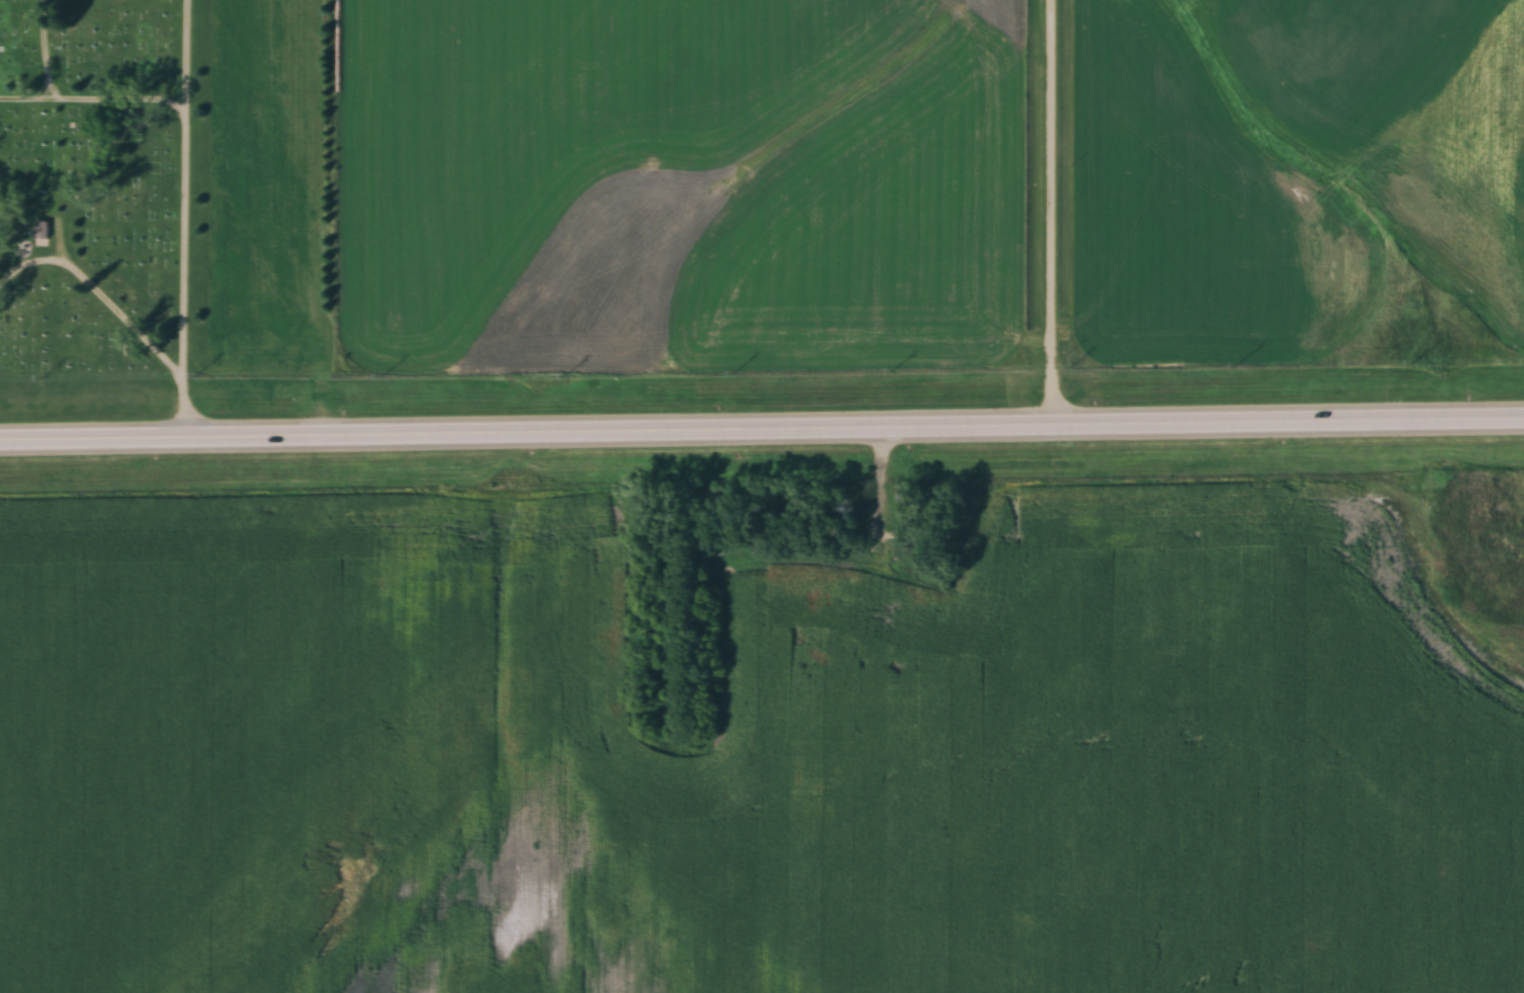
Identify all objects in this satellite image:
road: (1050, 212)
building: (42, 230)
road: (761, 427)

